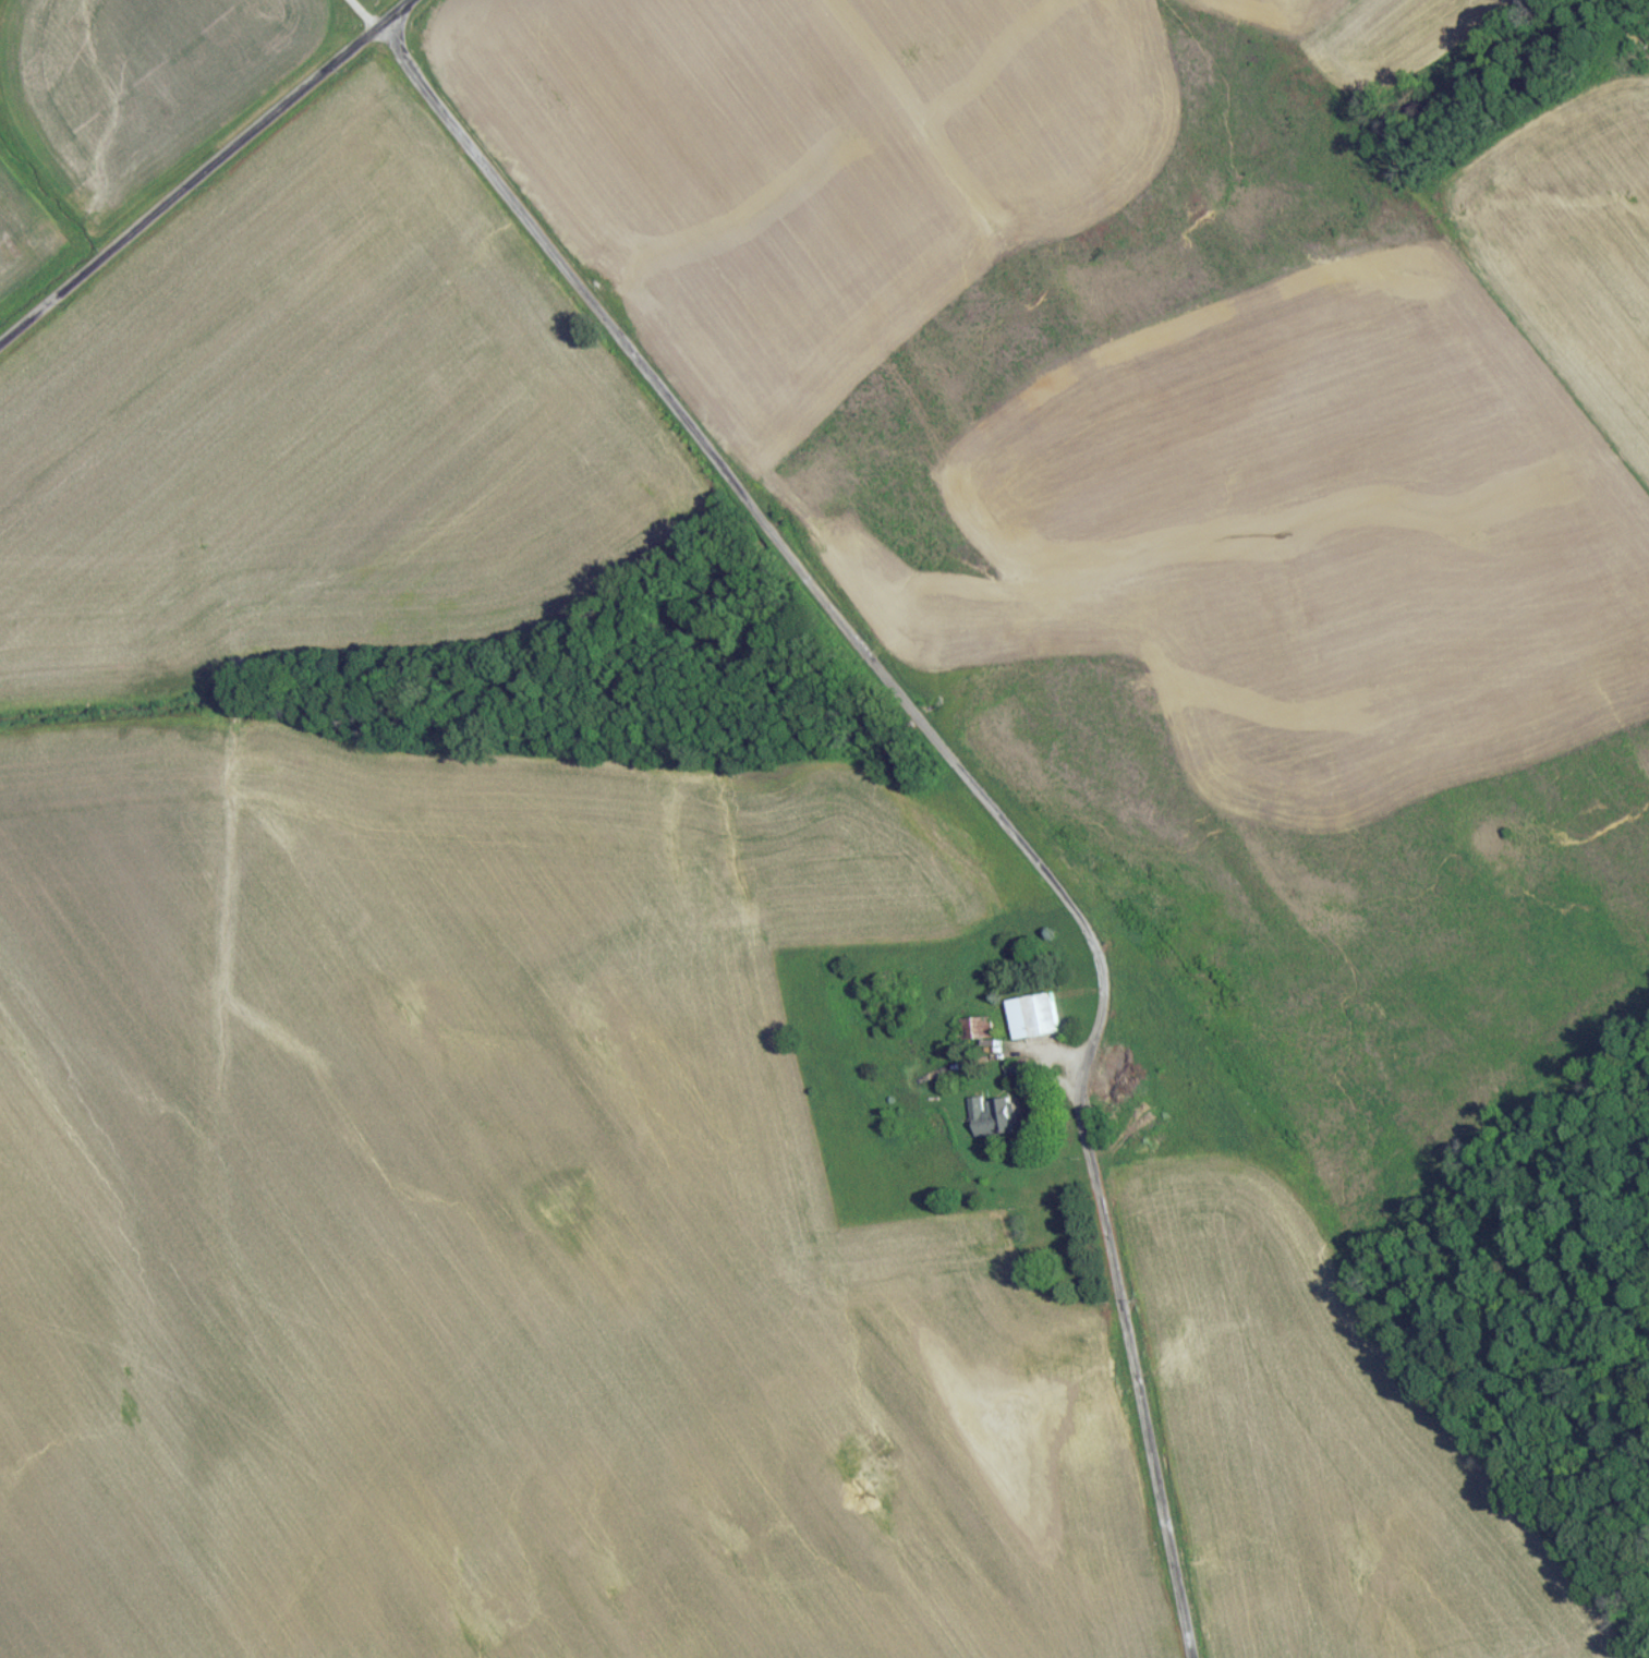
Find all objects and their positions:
road: (376, 9)
road: (203, 165)
road: (971, 758)
building: (1042, 1021)
building: (997, 1117)

